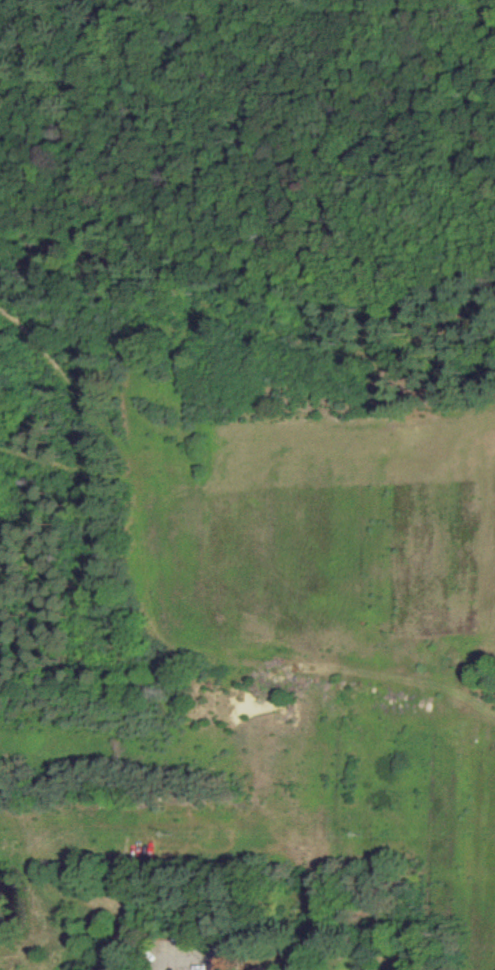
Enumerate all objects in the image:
road: (200, 957)
road: (163, 962)

